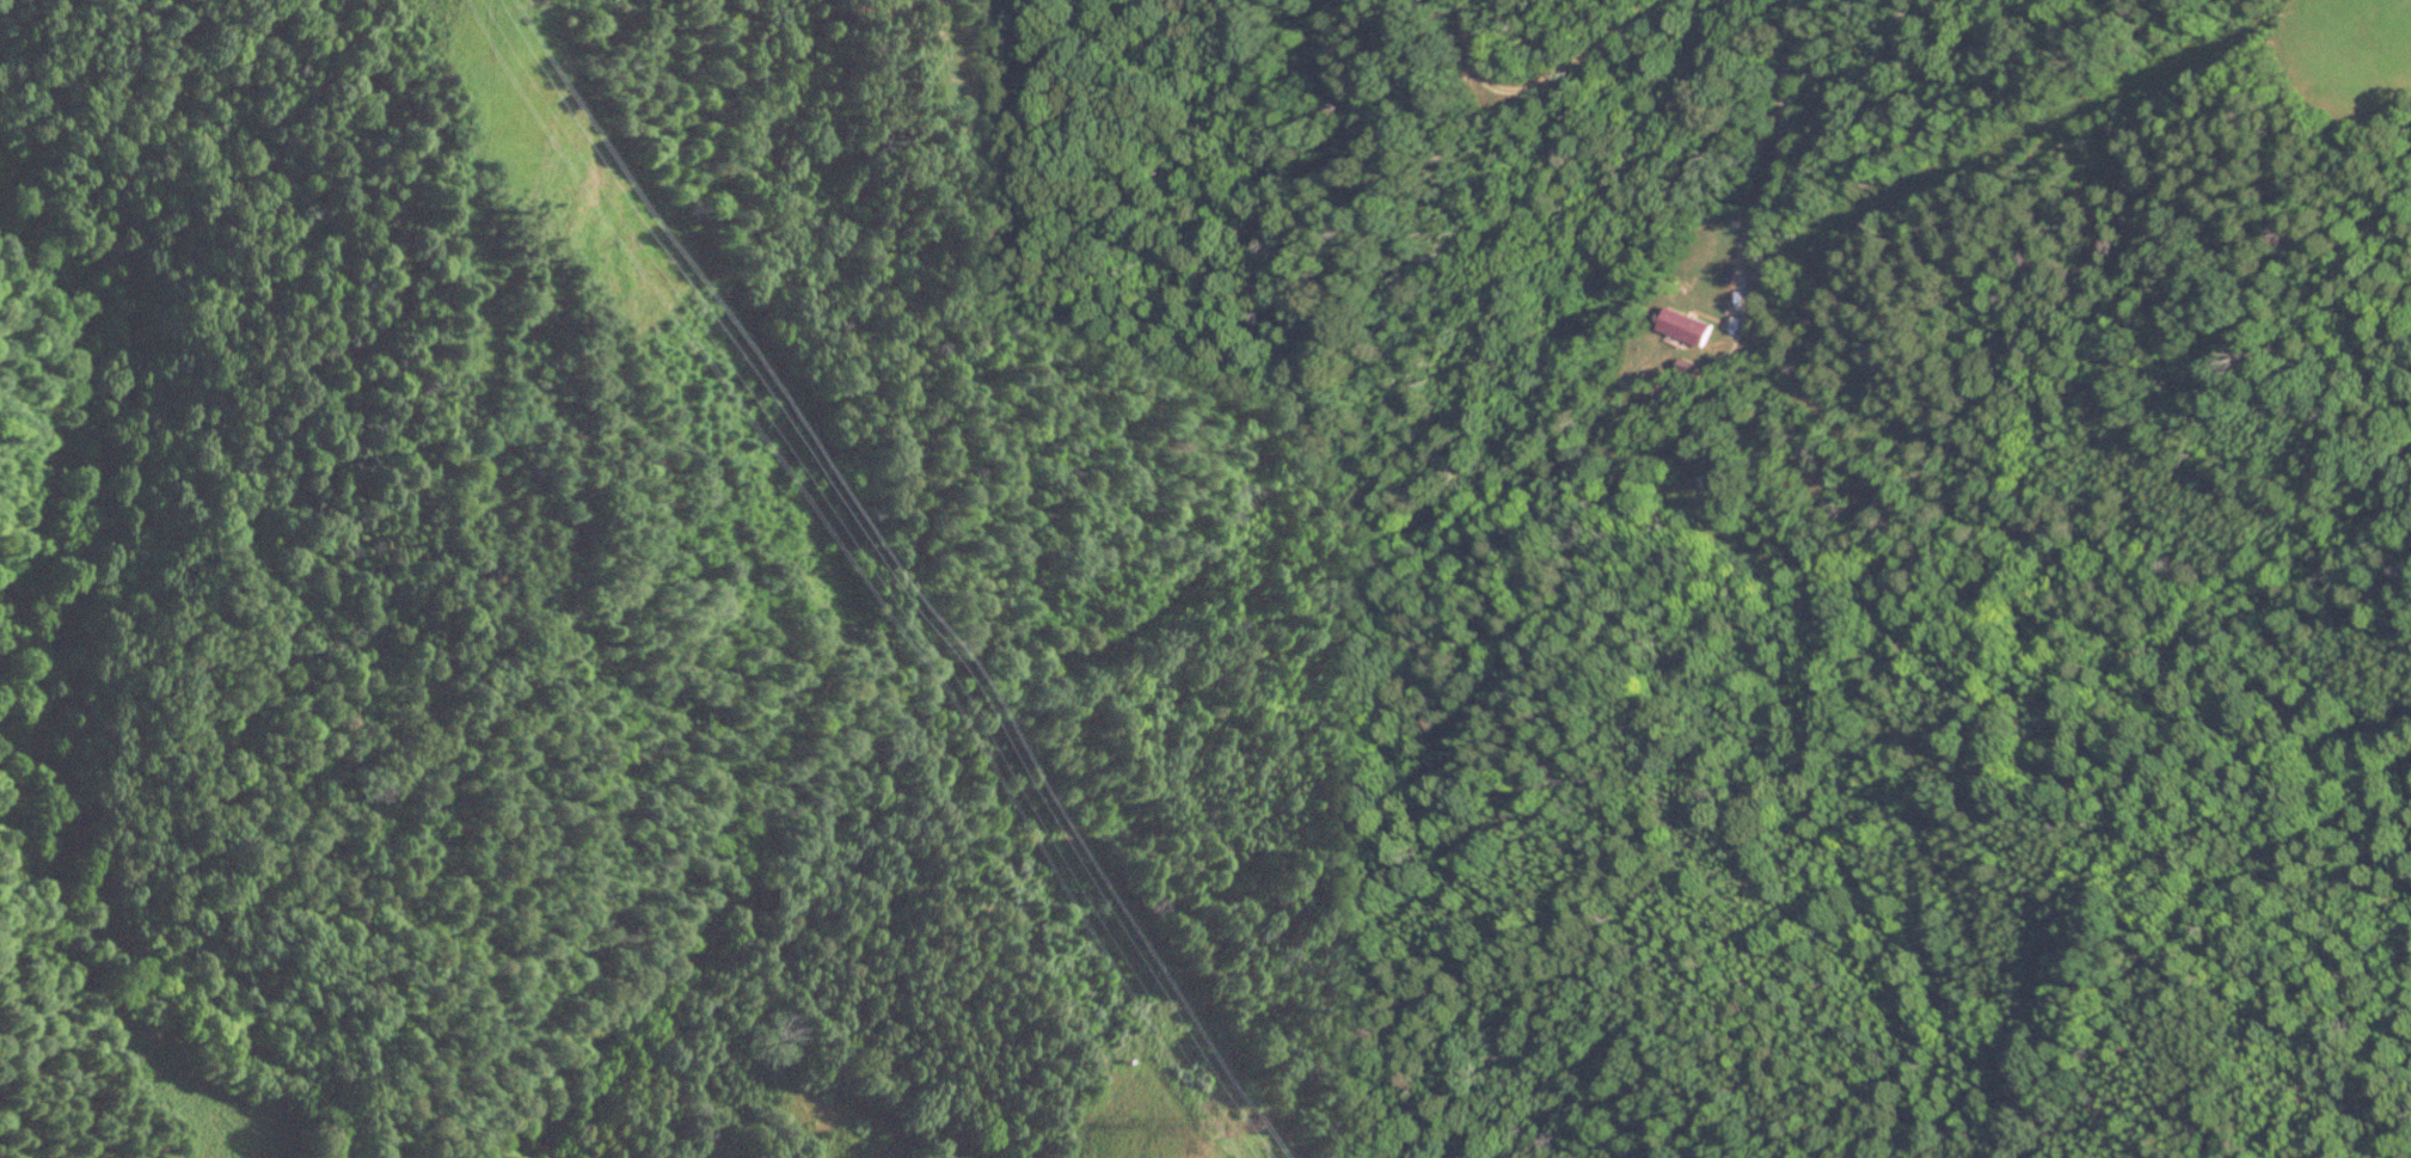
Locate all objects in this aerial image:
road: (1456, 10)
road: (1551, 76)
road: (1773, 163)
building: (1688, 326)

